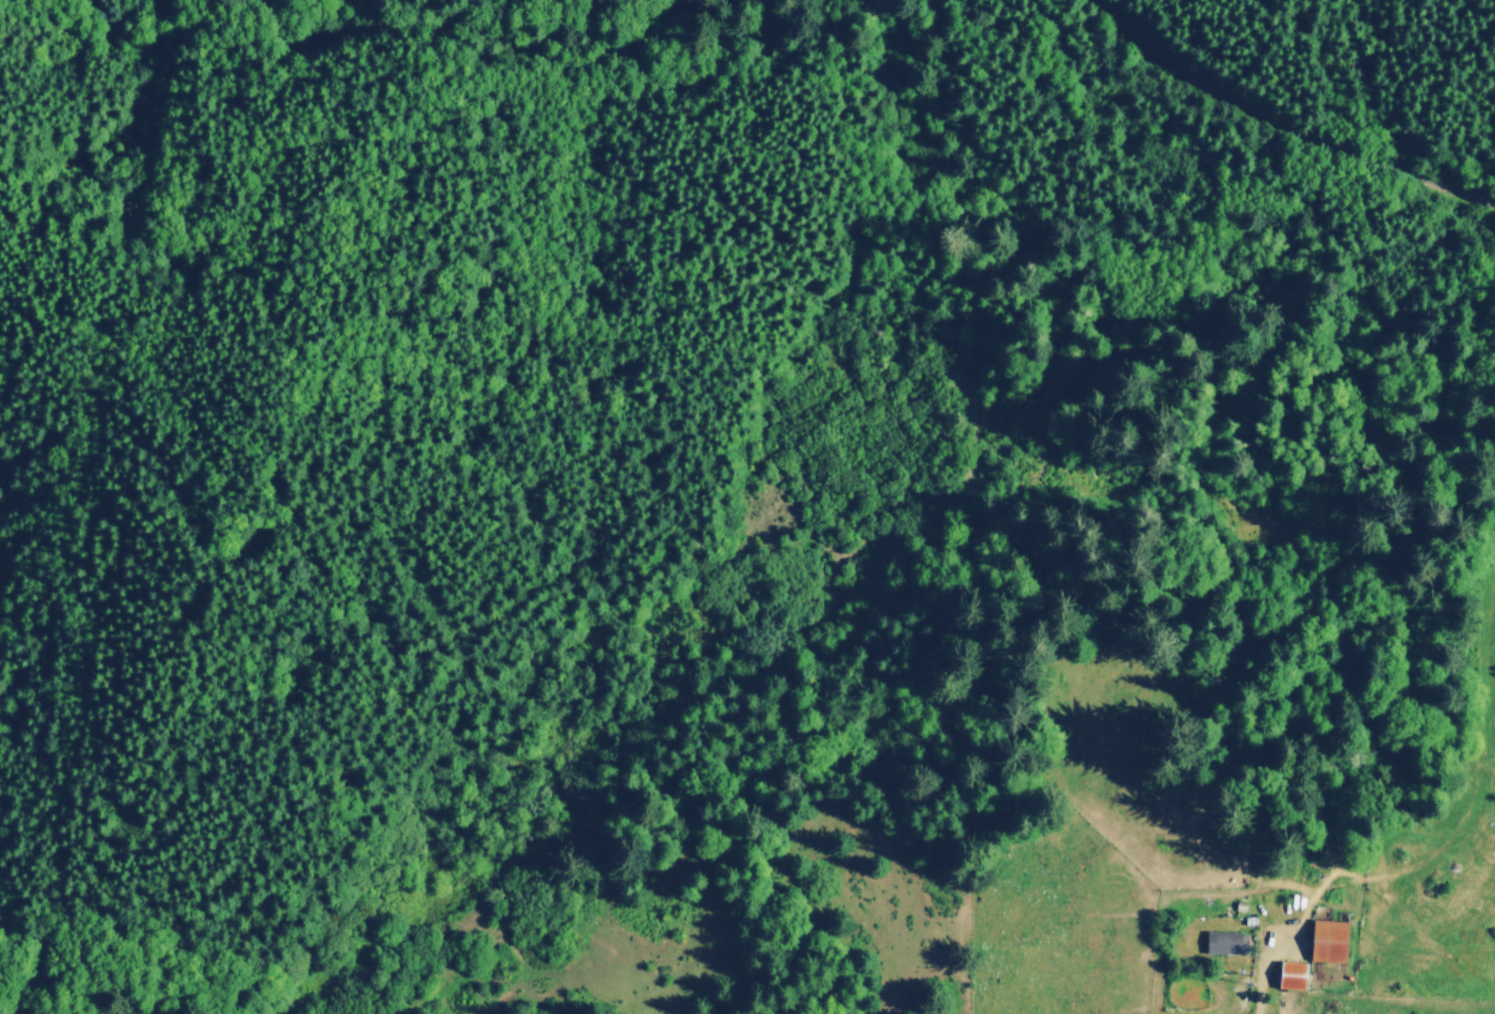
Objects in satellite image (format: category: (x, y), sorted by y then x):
road: (1298, 127)
building: (1332, 939)
building: (1293, 966)
road: (1257, 1013)

